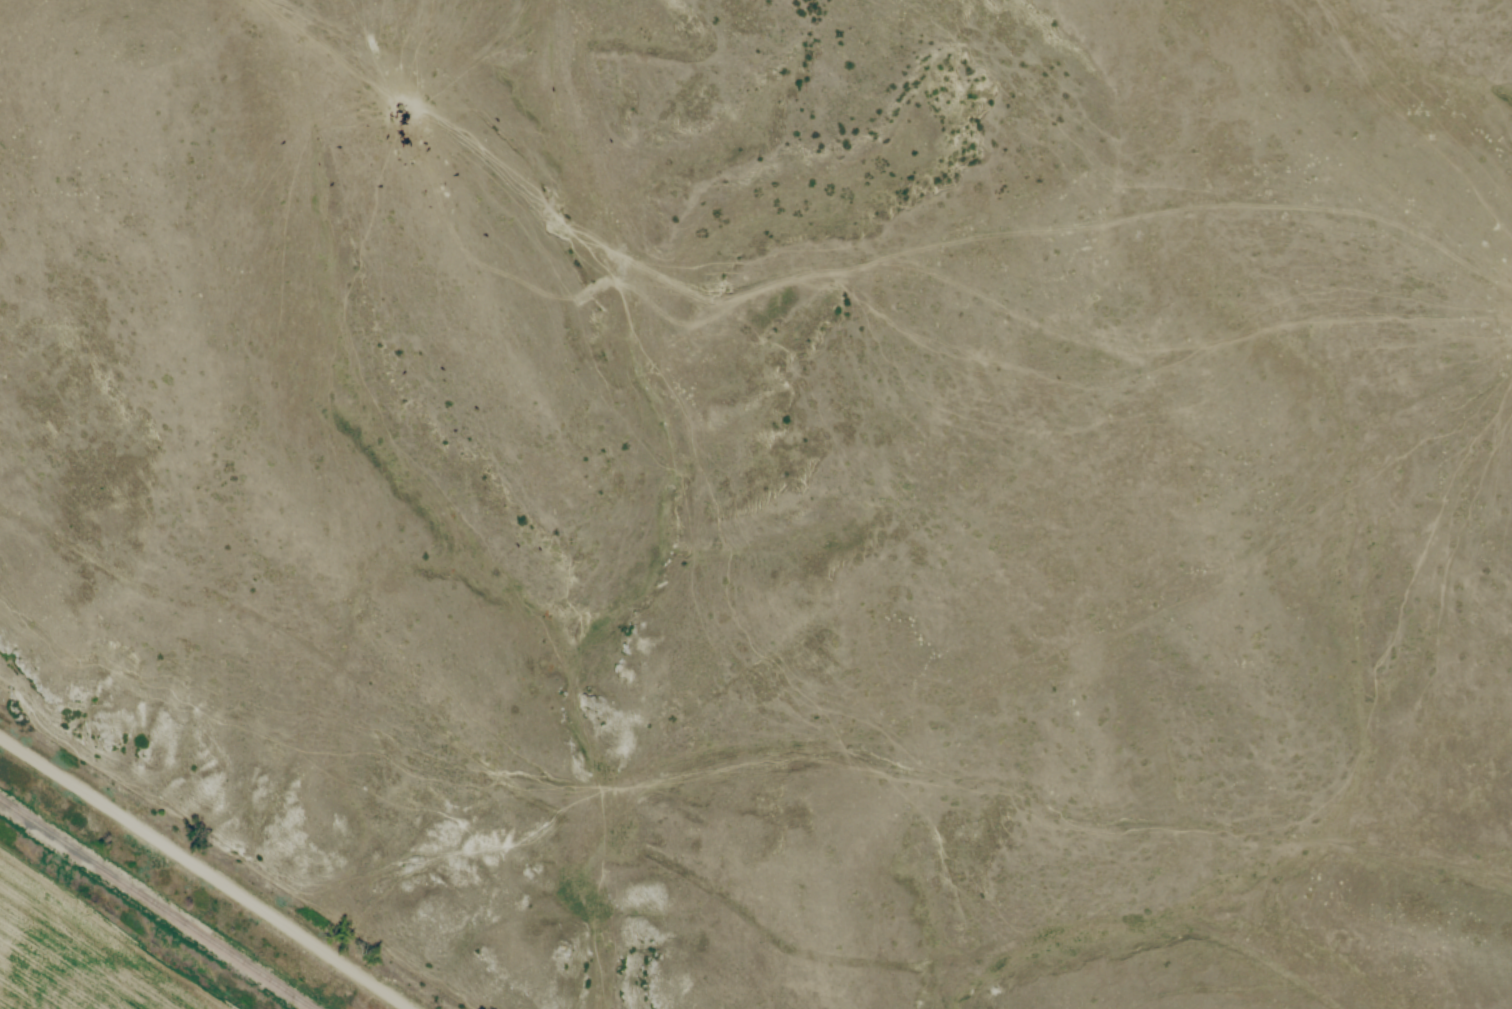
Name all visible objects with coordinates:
road: (205, 870)
railway: (154, 906)

